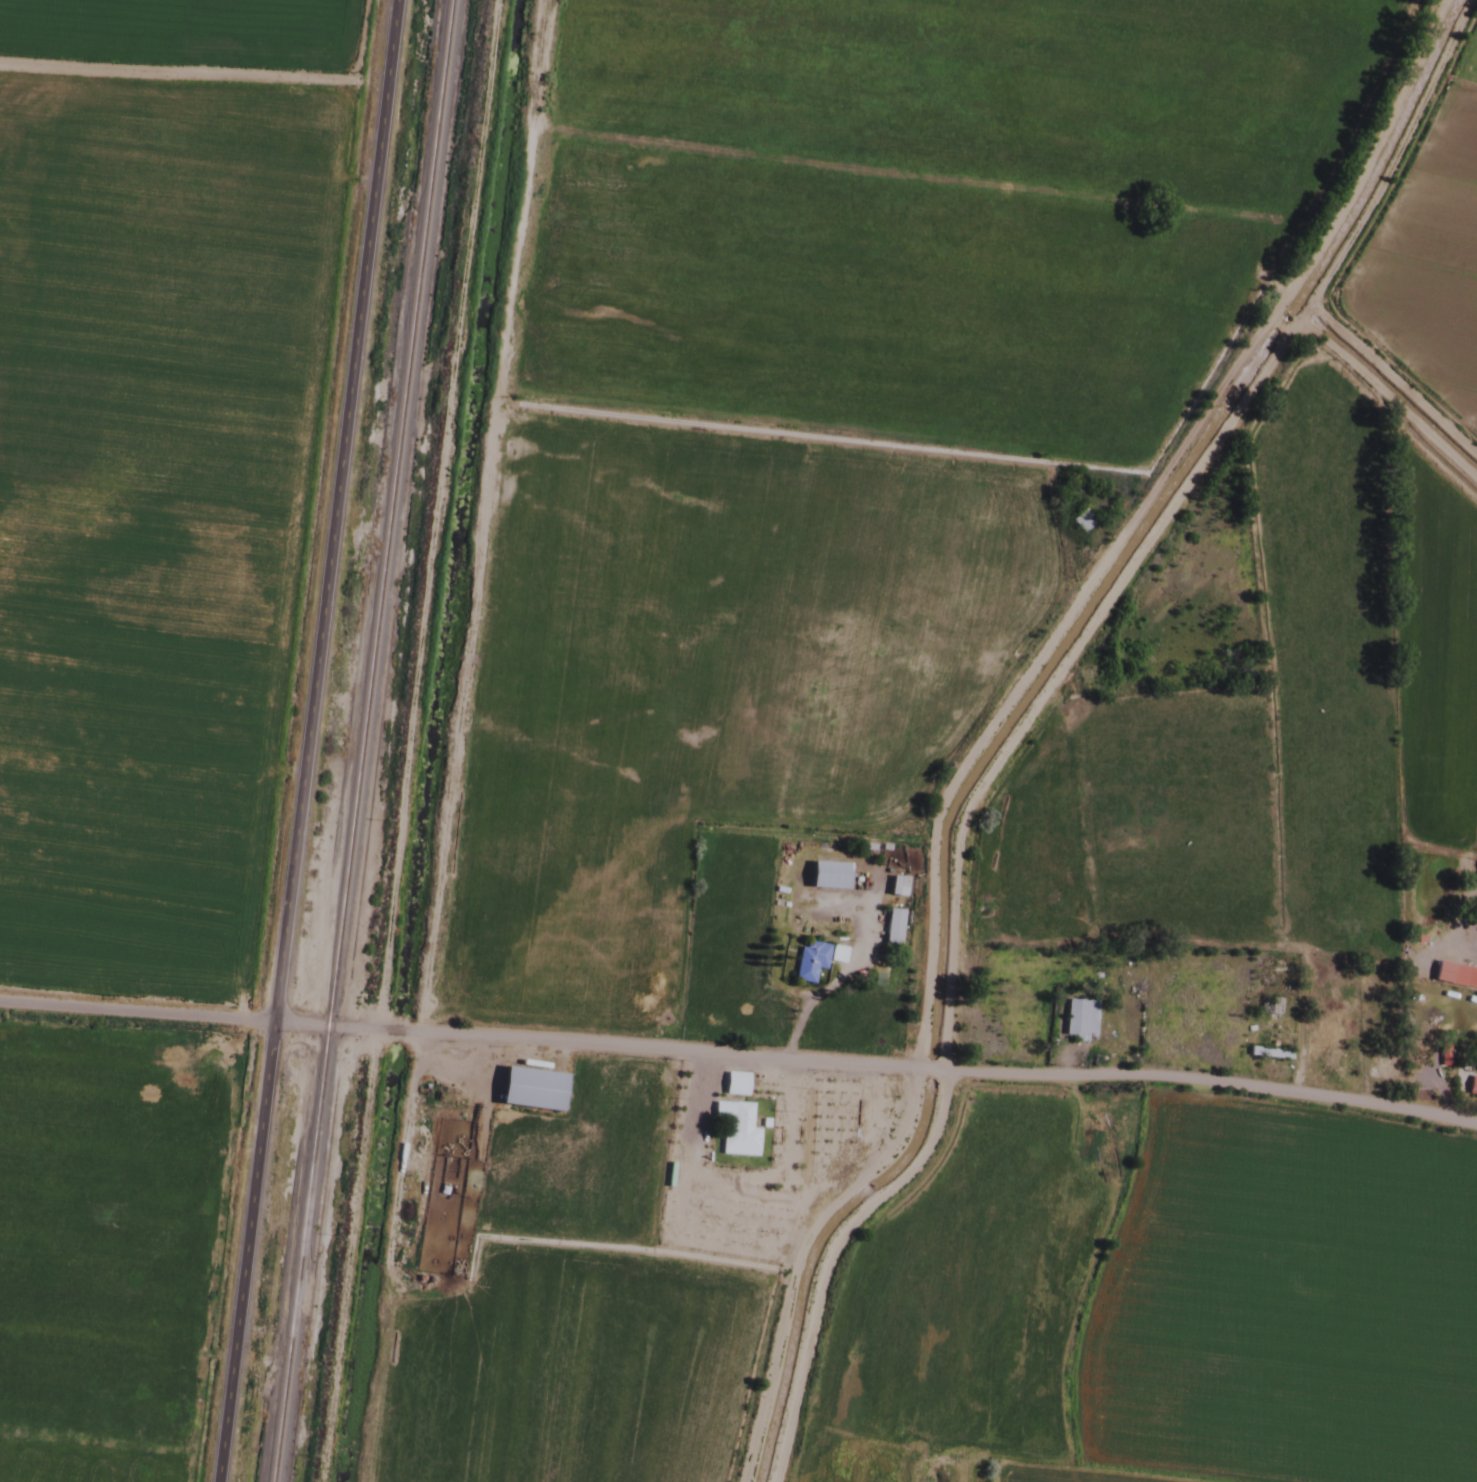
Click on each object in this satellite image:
road: (1123, 519)
building: (1081, 520)
road: (304, 741)
railway: (359, 741)
building: (826, 875)
building: (896, 887)
building: (892, 926)
building: (813, 960)
building: (1455, 975)
road: (200, 1017)
building: (1078, 1020)
road: (652, 1049)
road: (924, 1069)
road: (1211, 1083)
building: (734, 1084)
building: (1471, 1086)
building: (528, 1089)
building: (735, 1129)

